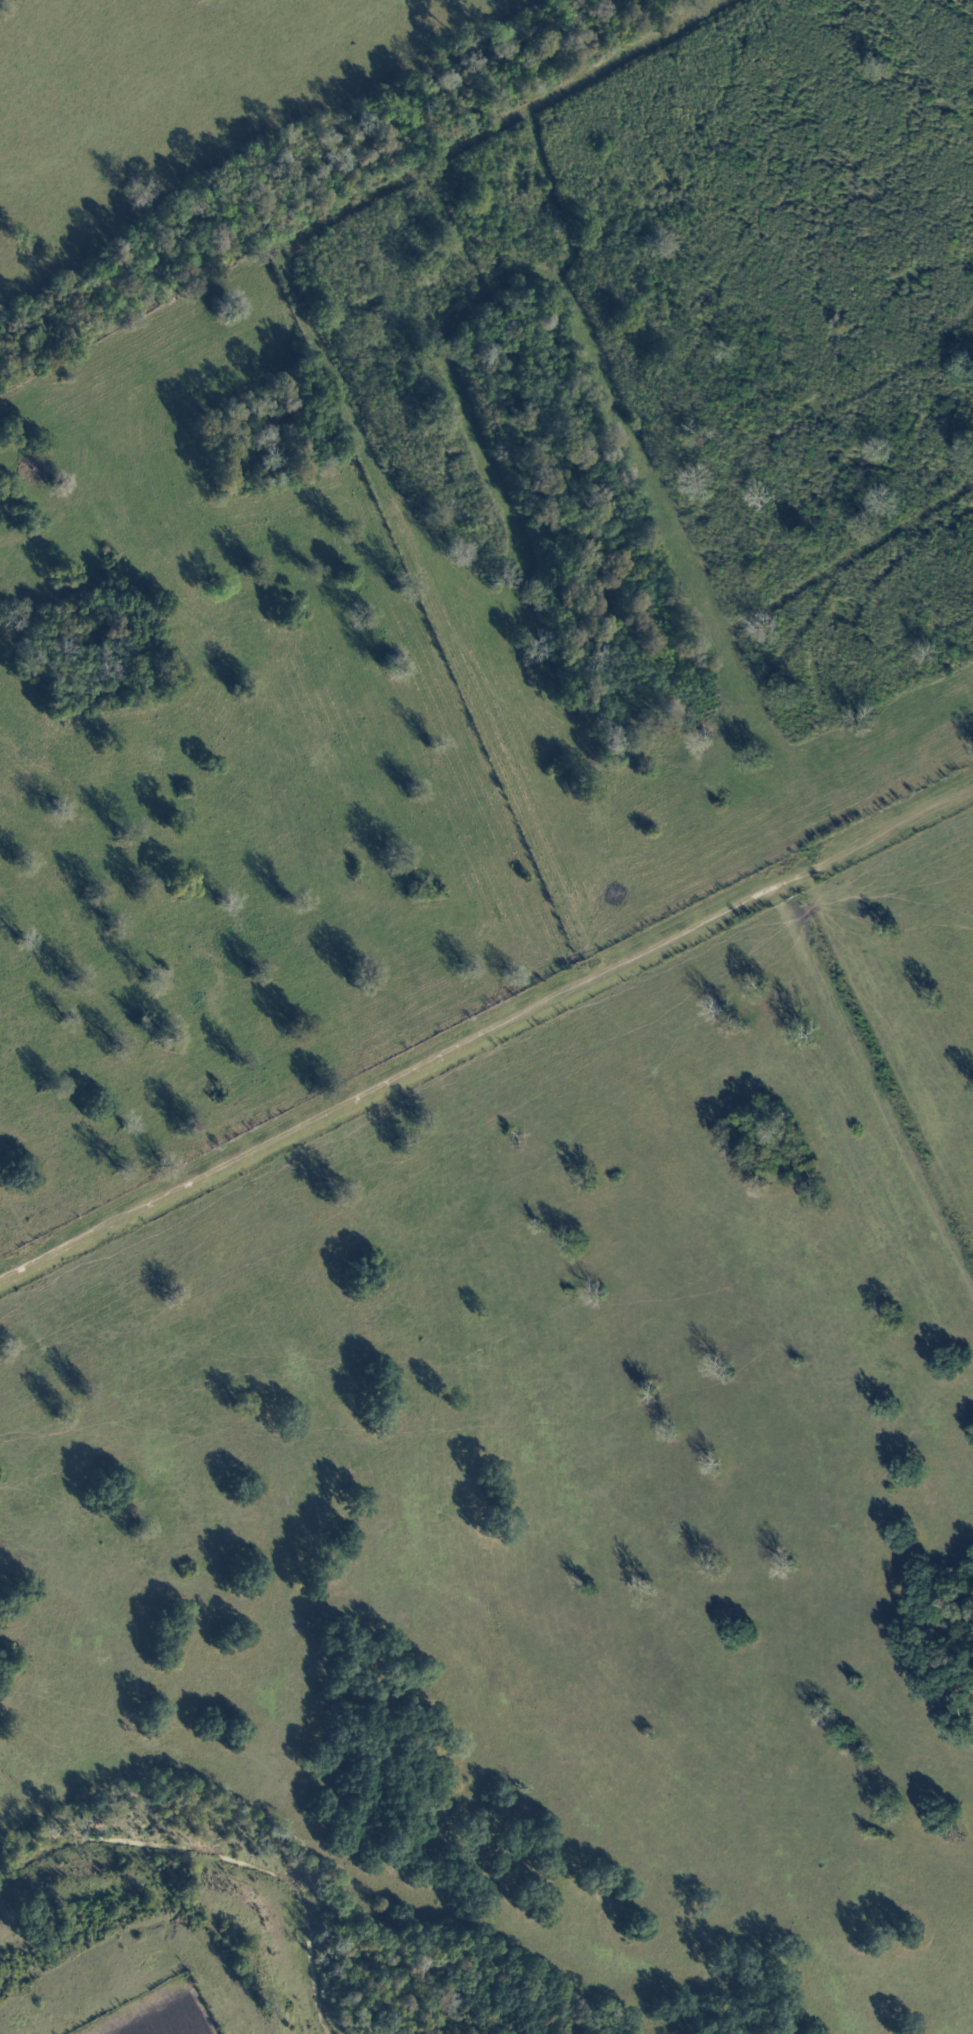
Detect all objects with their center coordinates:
road: (486, 1033)

